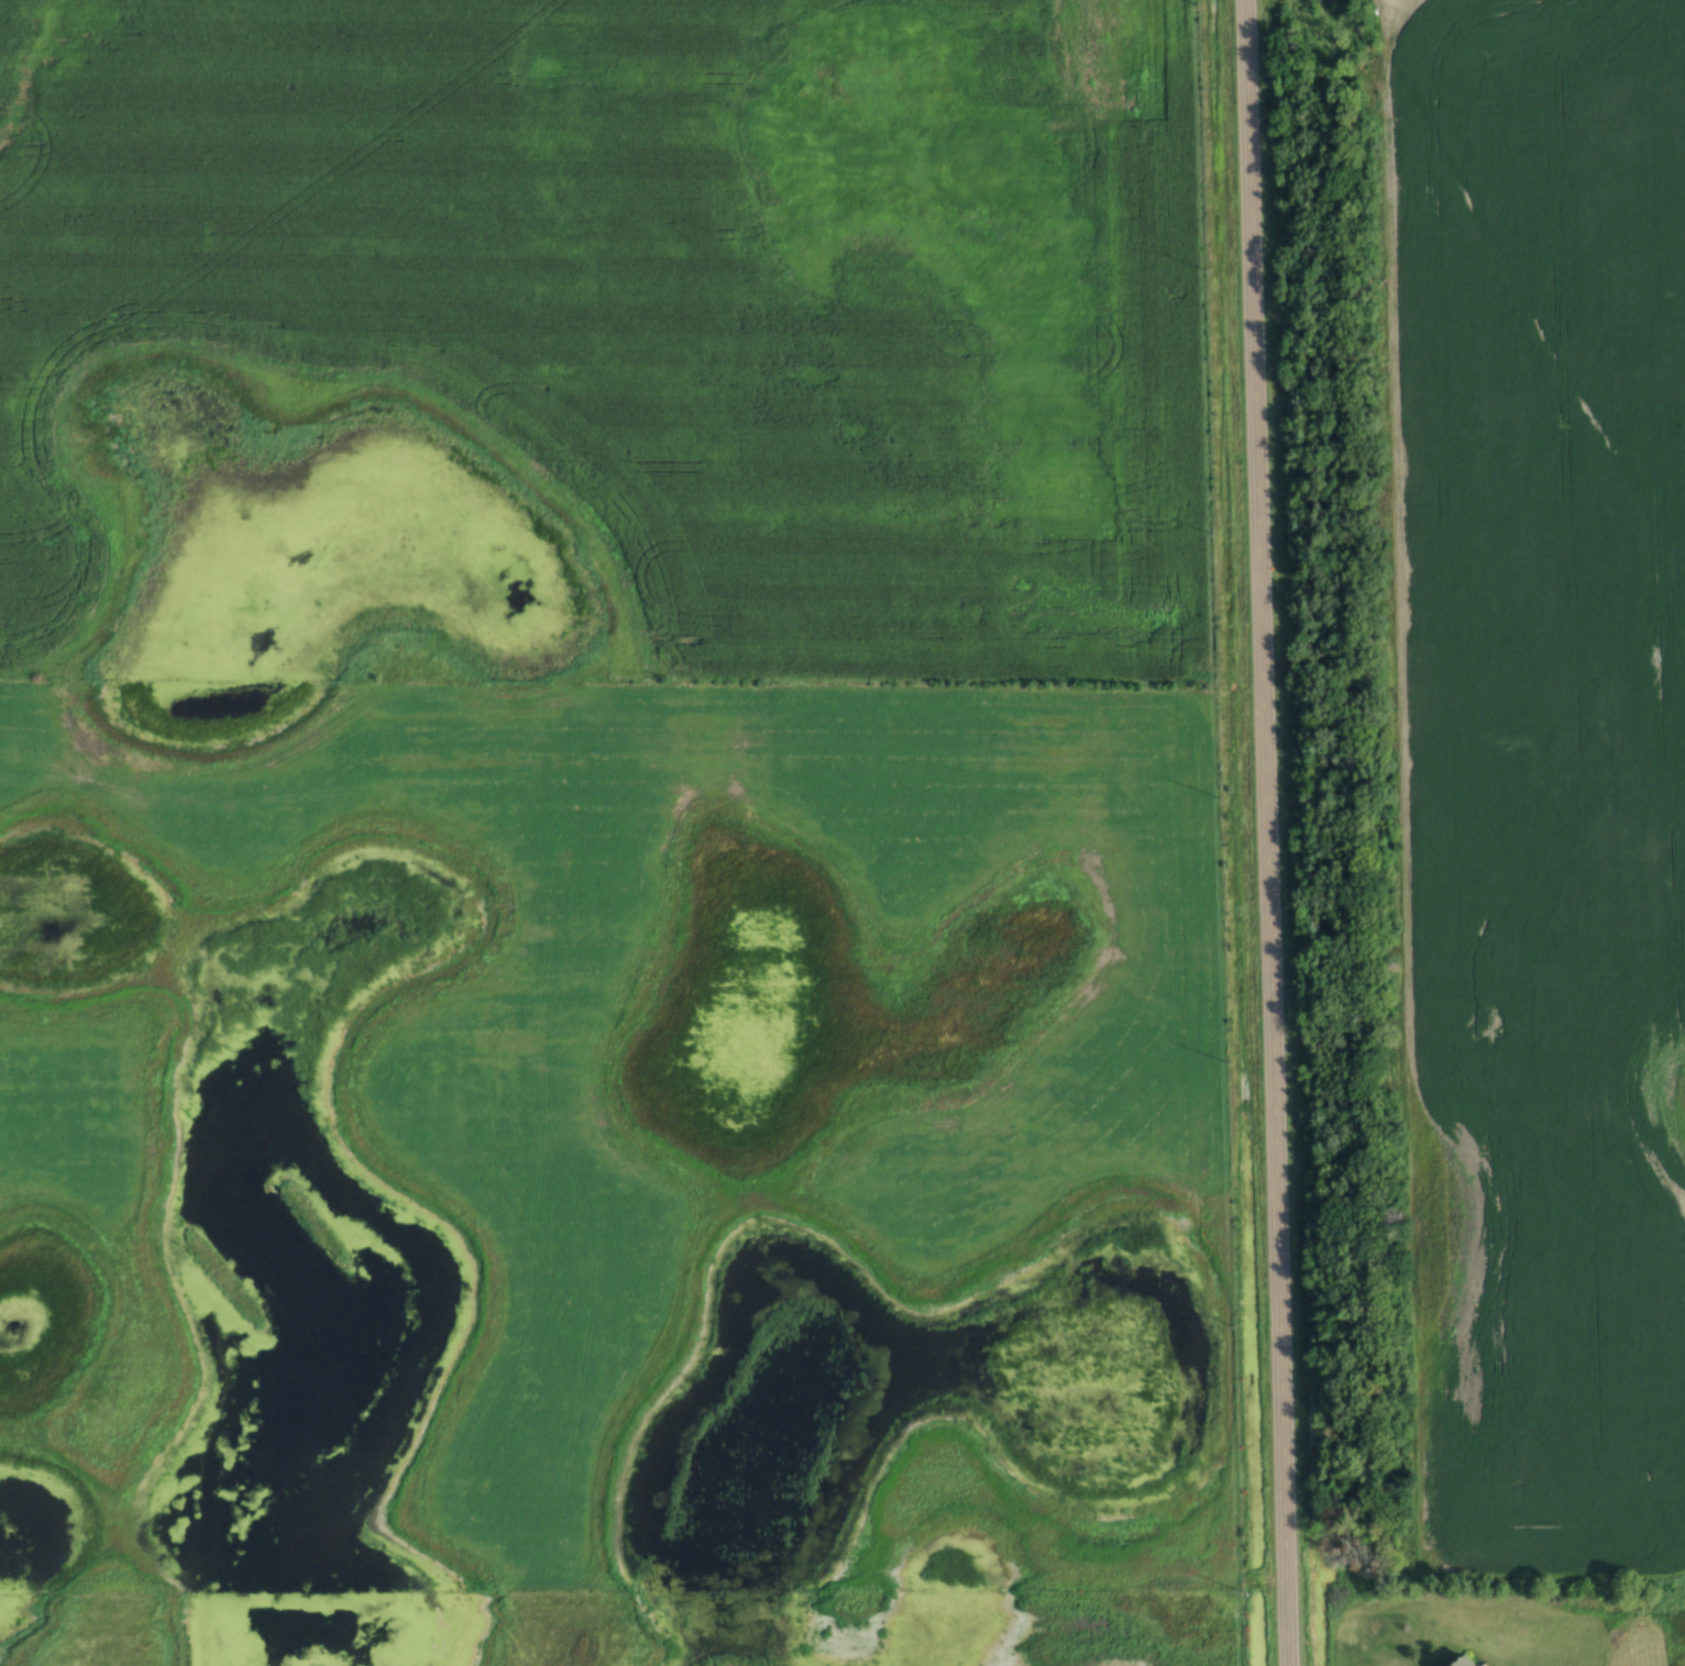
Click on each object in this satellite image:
road: (1268, 832)
building: (1454, 1659)

